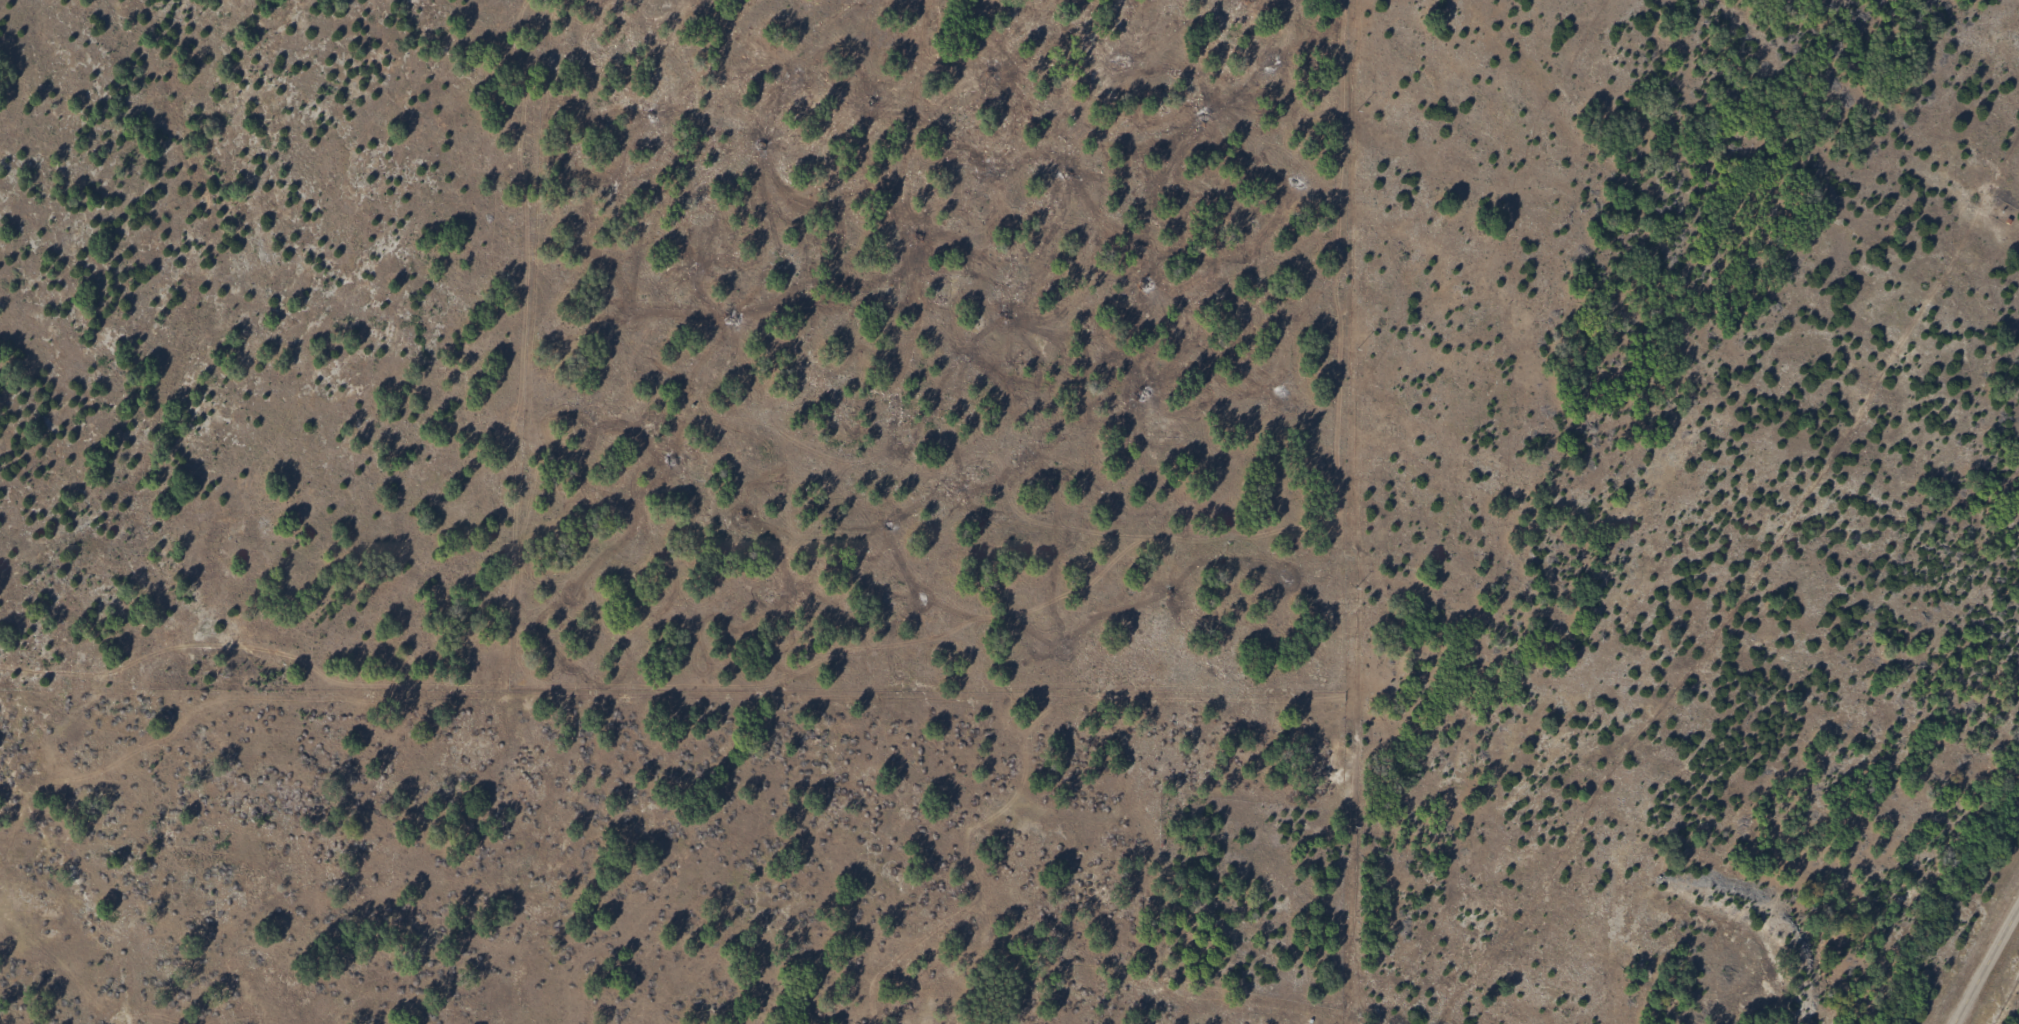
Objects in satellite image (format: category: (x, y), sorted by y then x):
road: (1987, 966)

